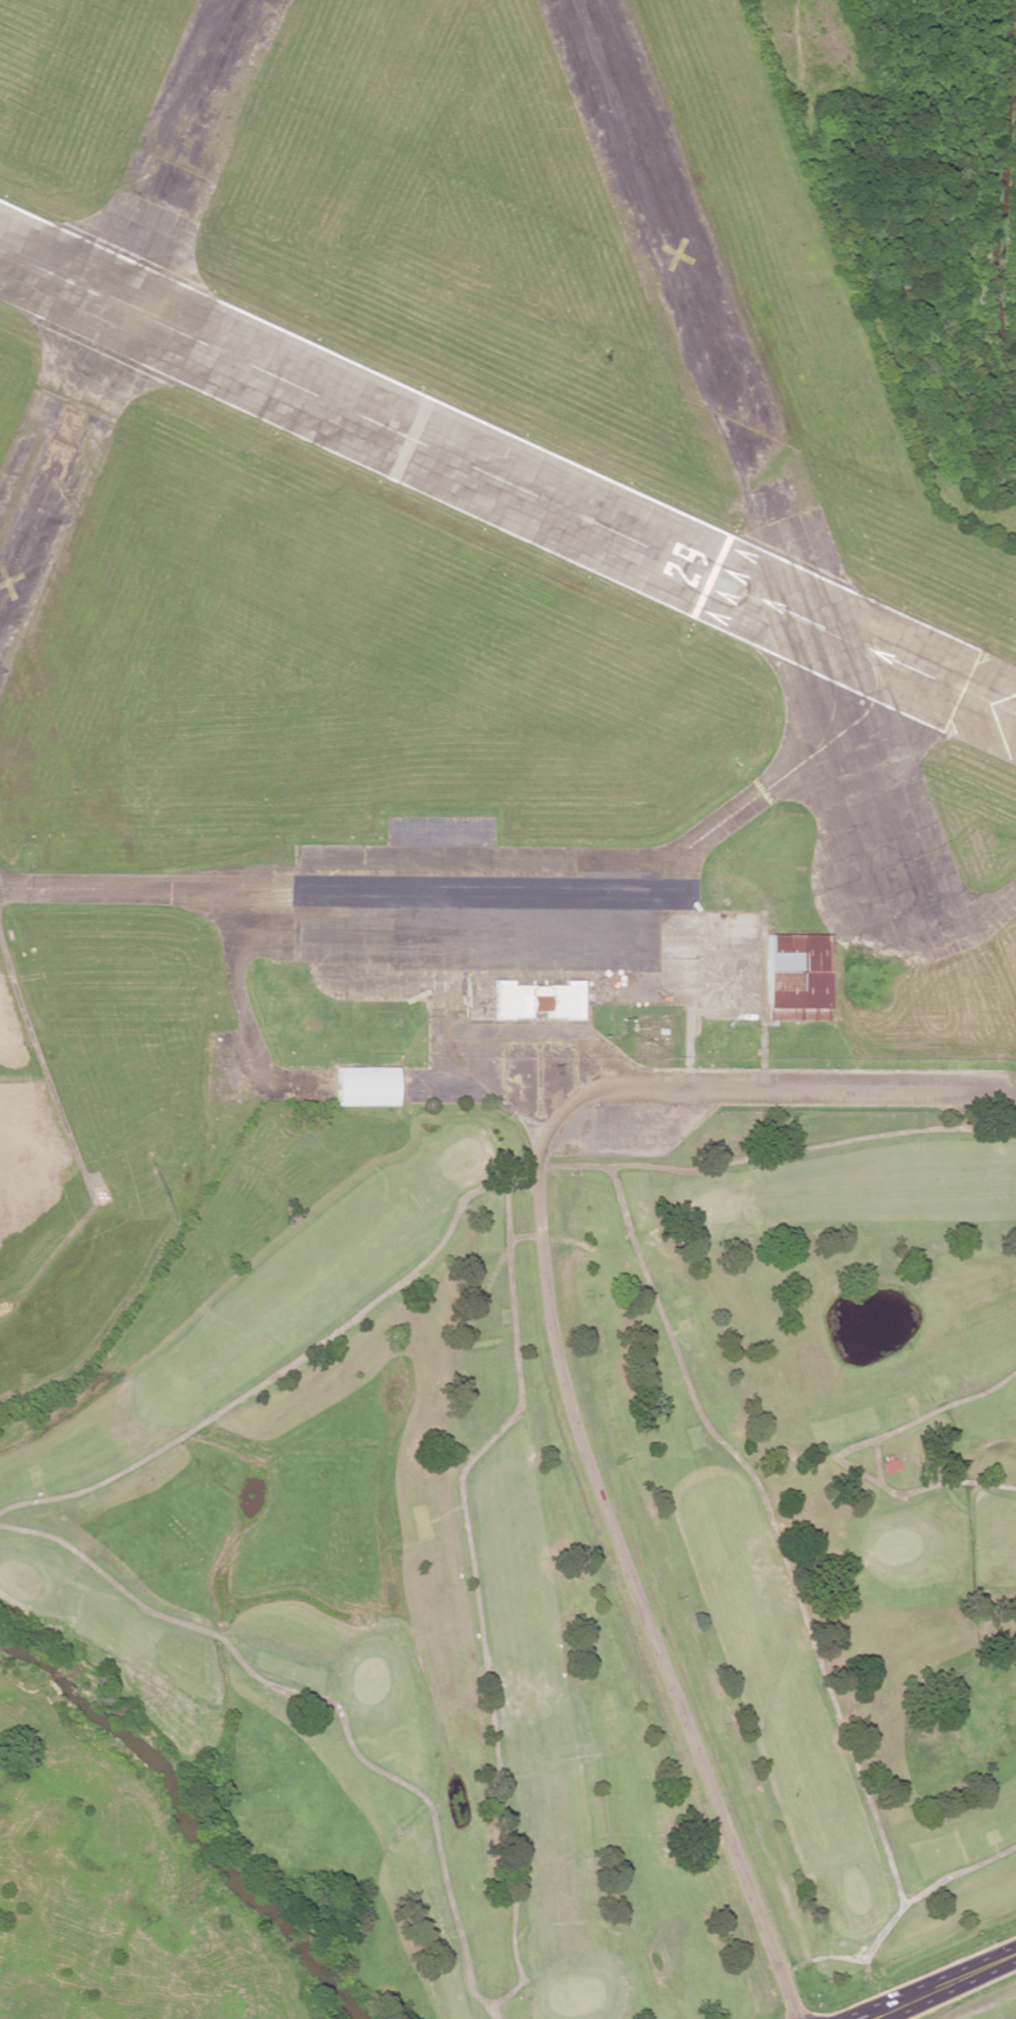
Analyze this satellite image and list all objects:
airport runway: (507, 481)
airport: (447, 597)
airport taxiway: (811, 750)
airport taxiway: (876, 830)
airport taxiway: (343, 866)
airport taxiway: (970, 919)
airport apron: (517, 921)
building: (797, 976)
building: (538, 999)
building: (367, 1085)
road: (817, 1092)
road: (619, 1545)
park: (580, 1565)
road: (941, 1987)

